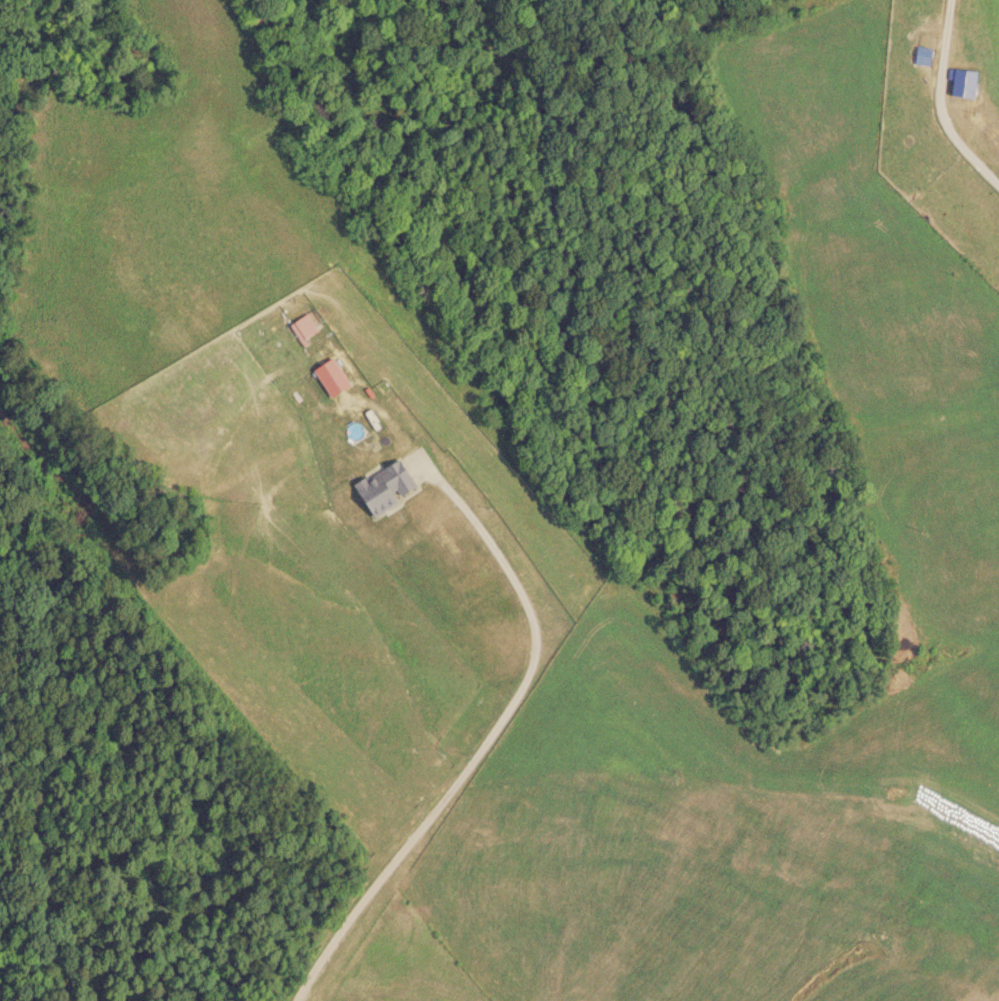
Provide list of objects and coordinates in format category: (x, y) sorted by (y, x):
road: (970, 165)
building: (301, 332)
building: (389, 484)
road: (483, 737)

